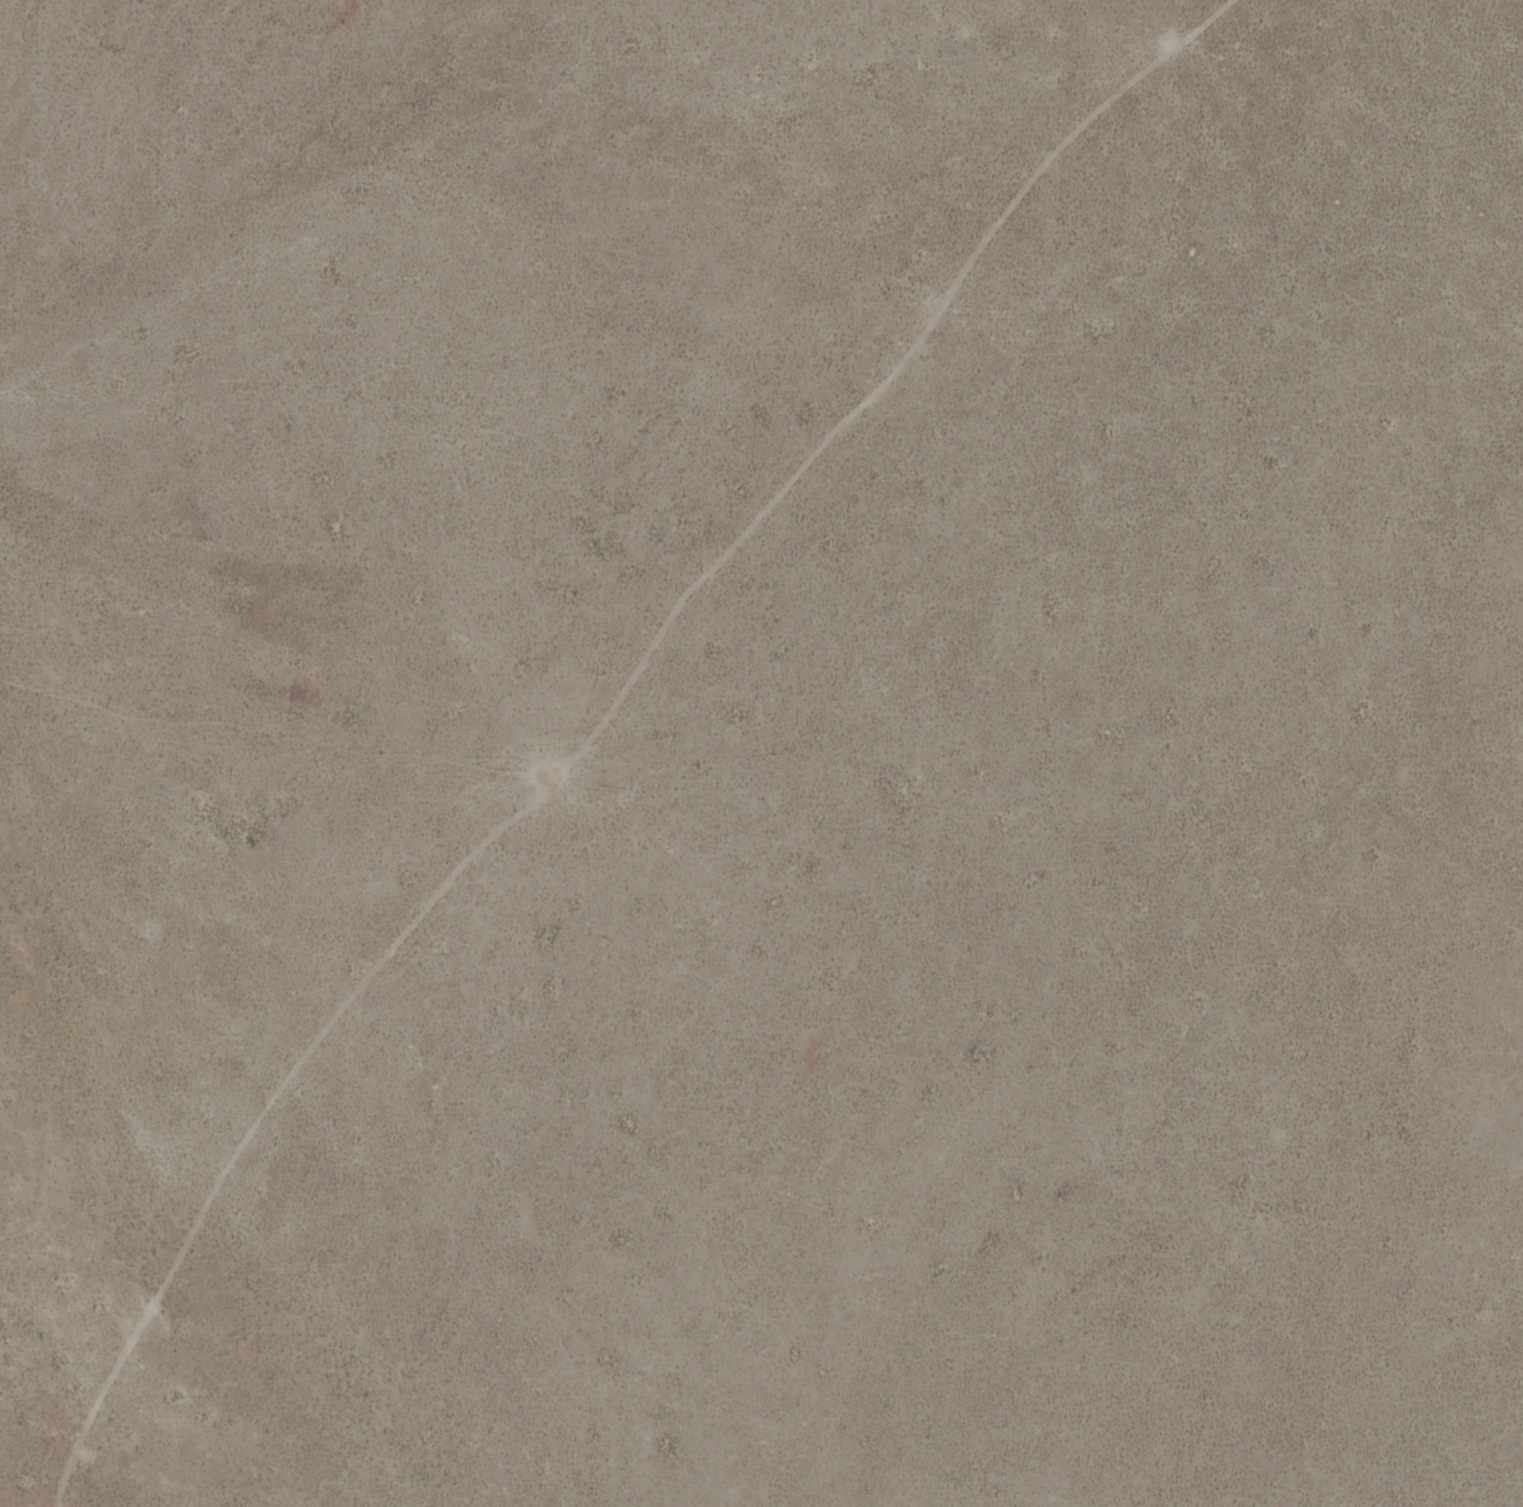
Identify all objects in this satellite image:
road: (593, 708)

